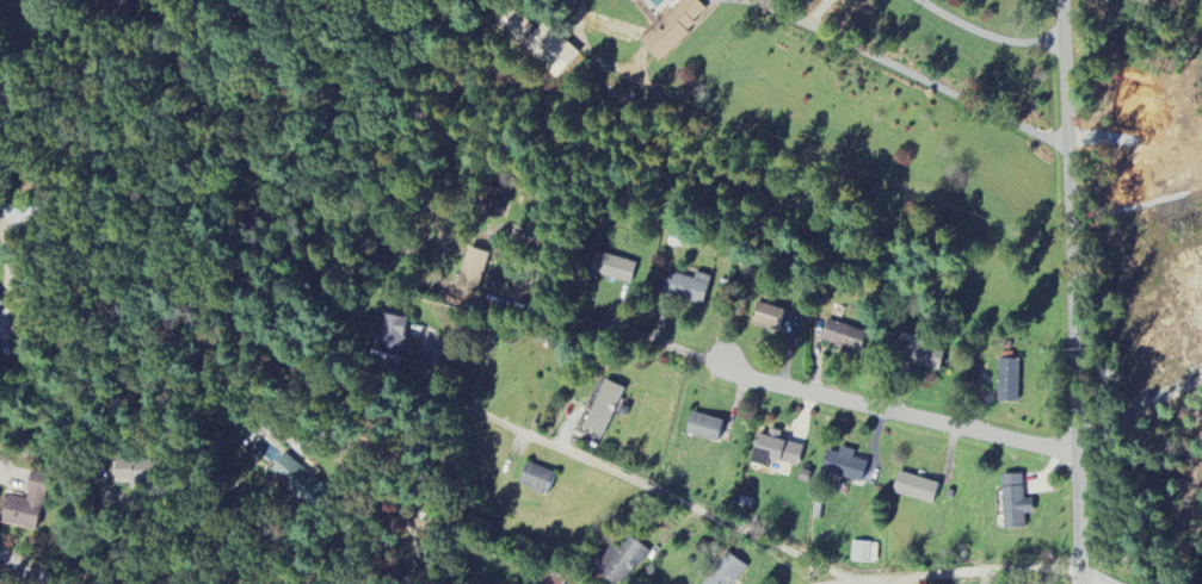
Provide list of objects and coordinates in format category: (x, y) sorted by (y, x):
building: (121, 10)
road: (814, 11)
building: (516, 27)
building: (672, 29)
road: (988, 31)
building: (551, 51)
road: (904, 69)
building: (494, 204)
road: (2, 219)
building: (611, 269)
building: (686, 288)
road: (1071, 291)
building: (0, 305)
building: (766, 317)
building: (392, 335)
building: (843, 337)
building: (920, 358)
building: (1007, 381)
building: (602, 410)
road: (1140, 410)
road: (863, 421)
building: (702, 429)
building: (775, 452)
building: (844, 466)
building: (132, 474)
building: (536, 479)
building: (298, 480)
road: (384, 487)
building: (914, 489)
road: (648, 496)
building: (1013, 503)
building: (27, 505)
road: (128, 545)
building: (861, 553)
building: (621, 563)
road: (24, 569)
building: (727, 572)
building: (551, 580)
road: (1049, 580)

